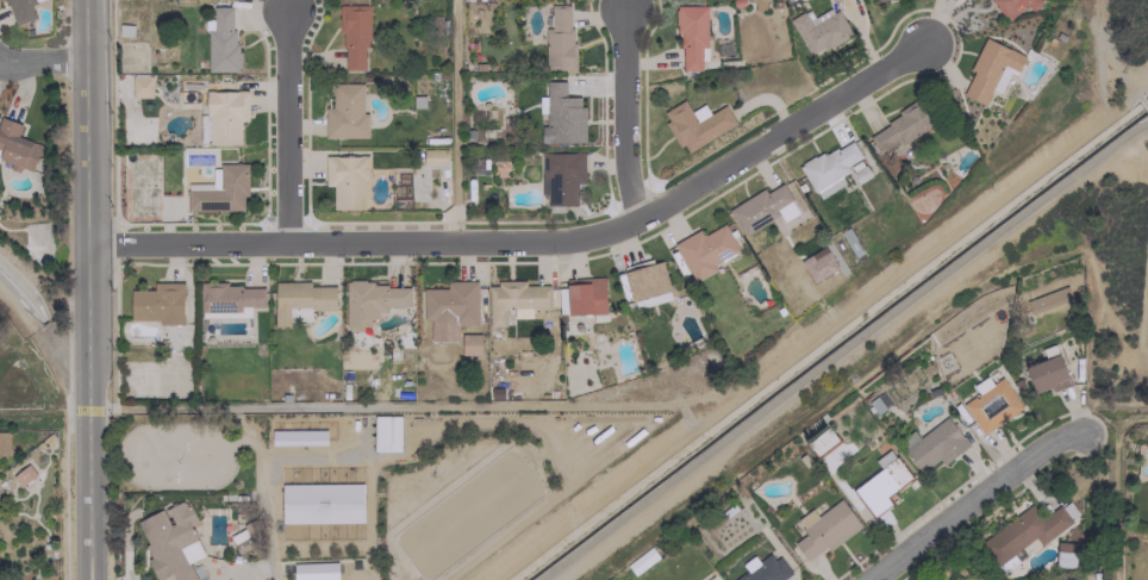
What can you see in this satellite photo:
building: (831, 0)
building: (863, 0)
building: (876, 0)
building: (1012, 6)
building: (20, 10)
building: (818, 29)
building: (352, 35)
building: (691, 37)
building: (559, 38)
building: (220, 39)
road: (35, 61)
building: (990, 69)
building: (139, 86)
road: (1141, 100)
building: (344, 112)
road: (630, 113)
building: (559, 114)
building: (224, 116)
building: (694, 123)
road: (292, 124)
building: (899, 126)
building: (14, 145)
building: (828, 168)
building: (560, 176)
building: (345, 180)
building: (219, 189)
park: (1115, 201)
building: (757, 207)
road: (537, 239)
building: (704, 250)
building: (813, 258)
building: (645, 281)
road: (96, 289)
building: (581, 295)
building: (1044, 295)
building: (299, 298)
building: (513, 299)
building: (372, 300)
building: (156, 303)
building: (450, 303)
building: (301, 313)
building: (469, 343)
road: (843, 349)
building: (1044, 374)
building: (988, 403)
building: (385, 432)
building: (297, 436)
building: (4, 443)
building: (934, 445)
building: (21, 474)
building: (880, 482)
road: (975, 501)
building: (320, 503)
building: (824, 528)
building: (1030, 528)
building: (169, 541)
building: (1063, 554)
building: (641, 560)
building: (762, 568)
building: (313, 570)

